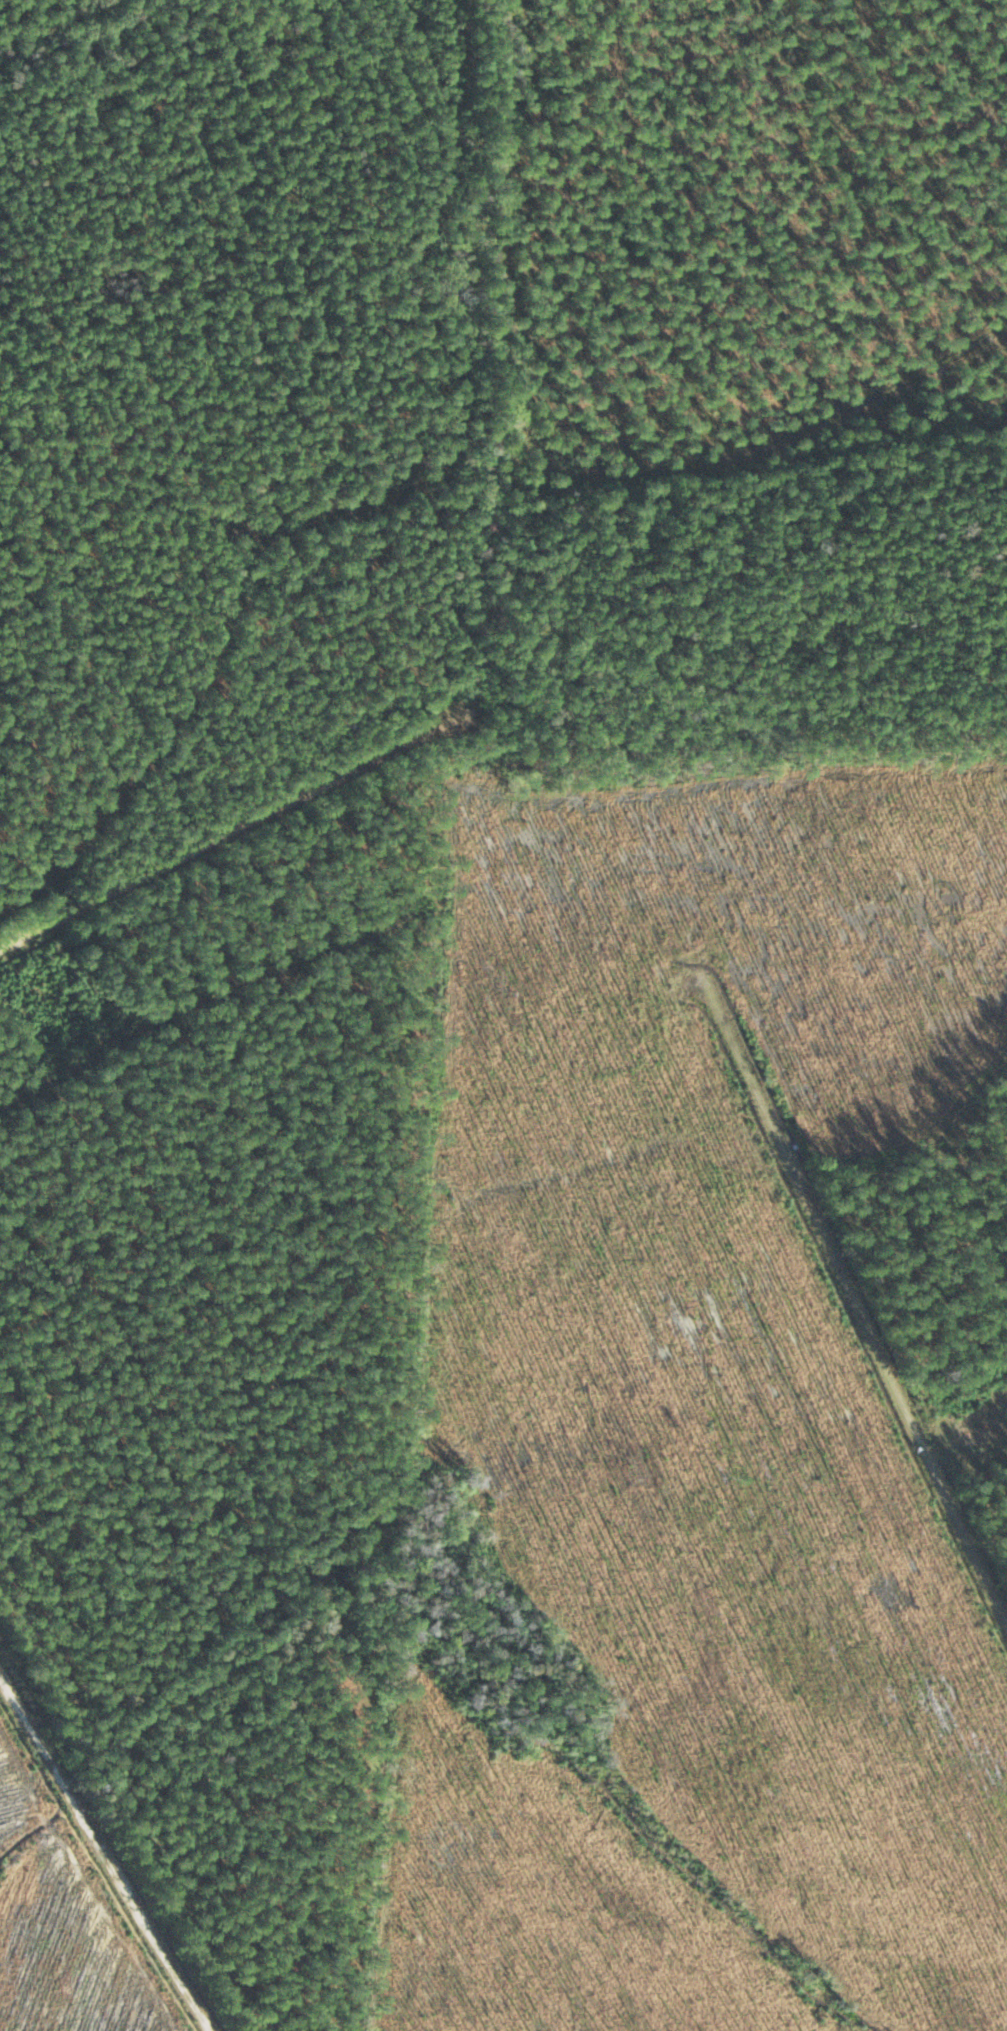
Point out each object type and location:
road: (223, 820)
road: (900, 1279)
road: (109, 1846)

